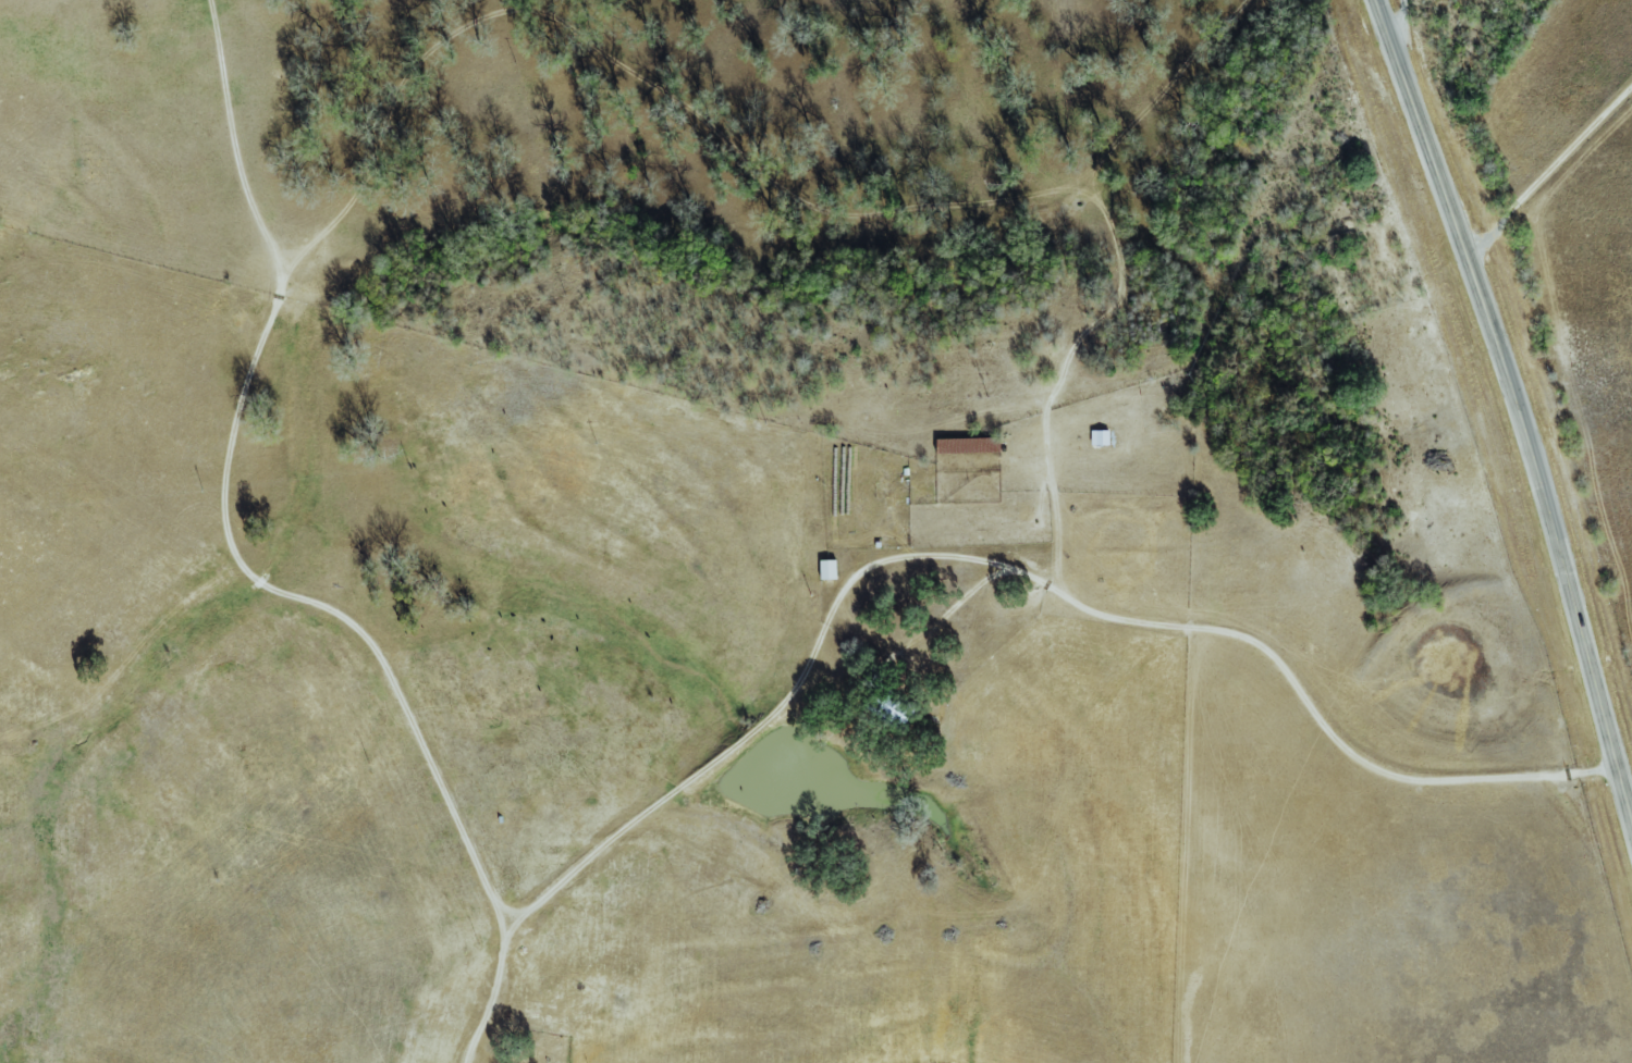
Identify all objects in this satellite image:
road: (1398, 25)
road: (1549, 175)
road: (1517, 405)
building: (1100, 436)
building: (968, 445)
building: (827, 569)
road: (1013, 571)
road: (247, 572)

